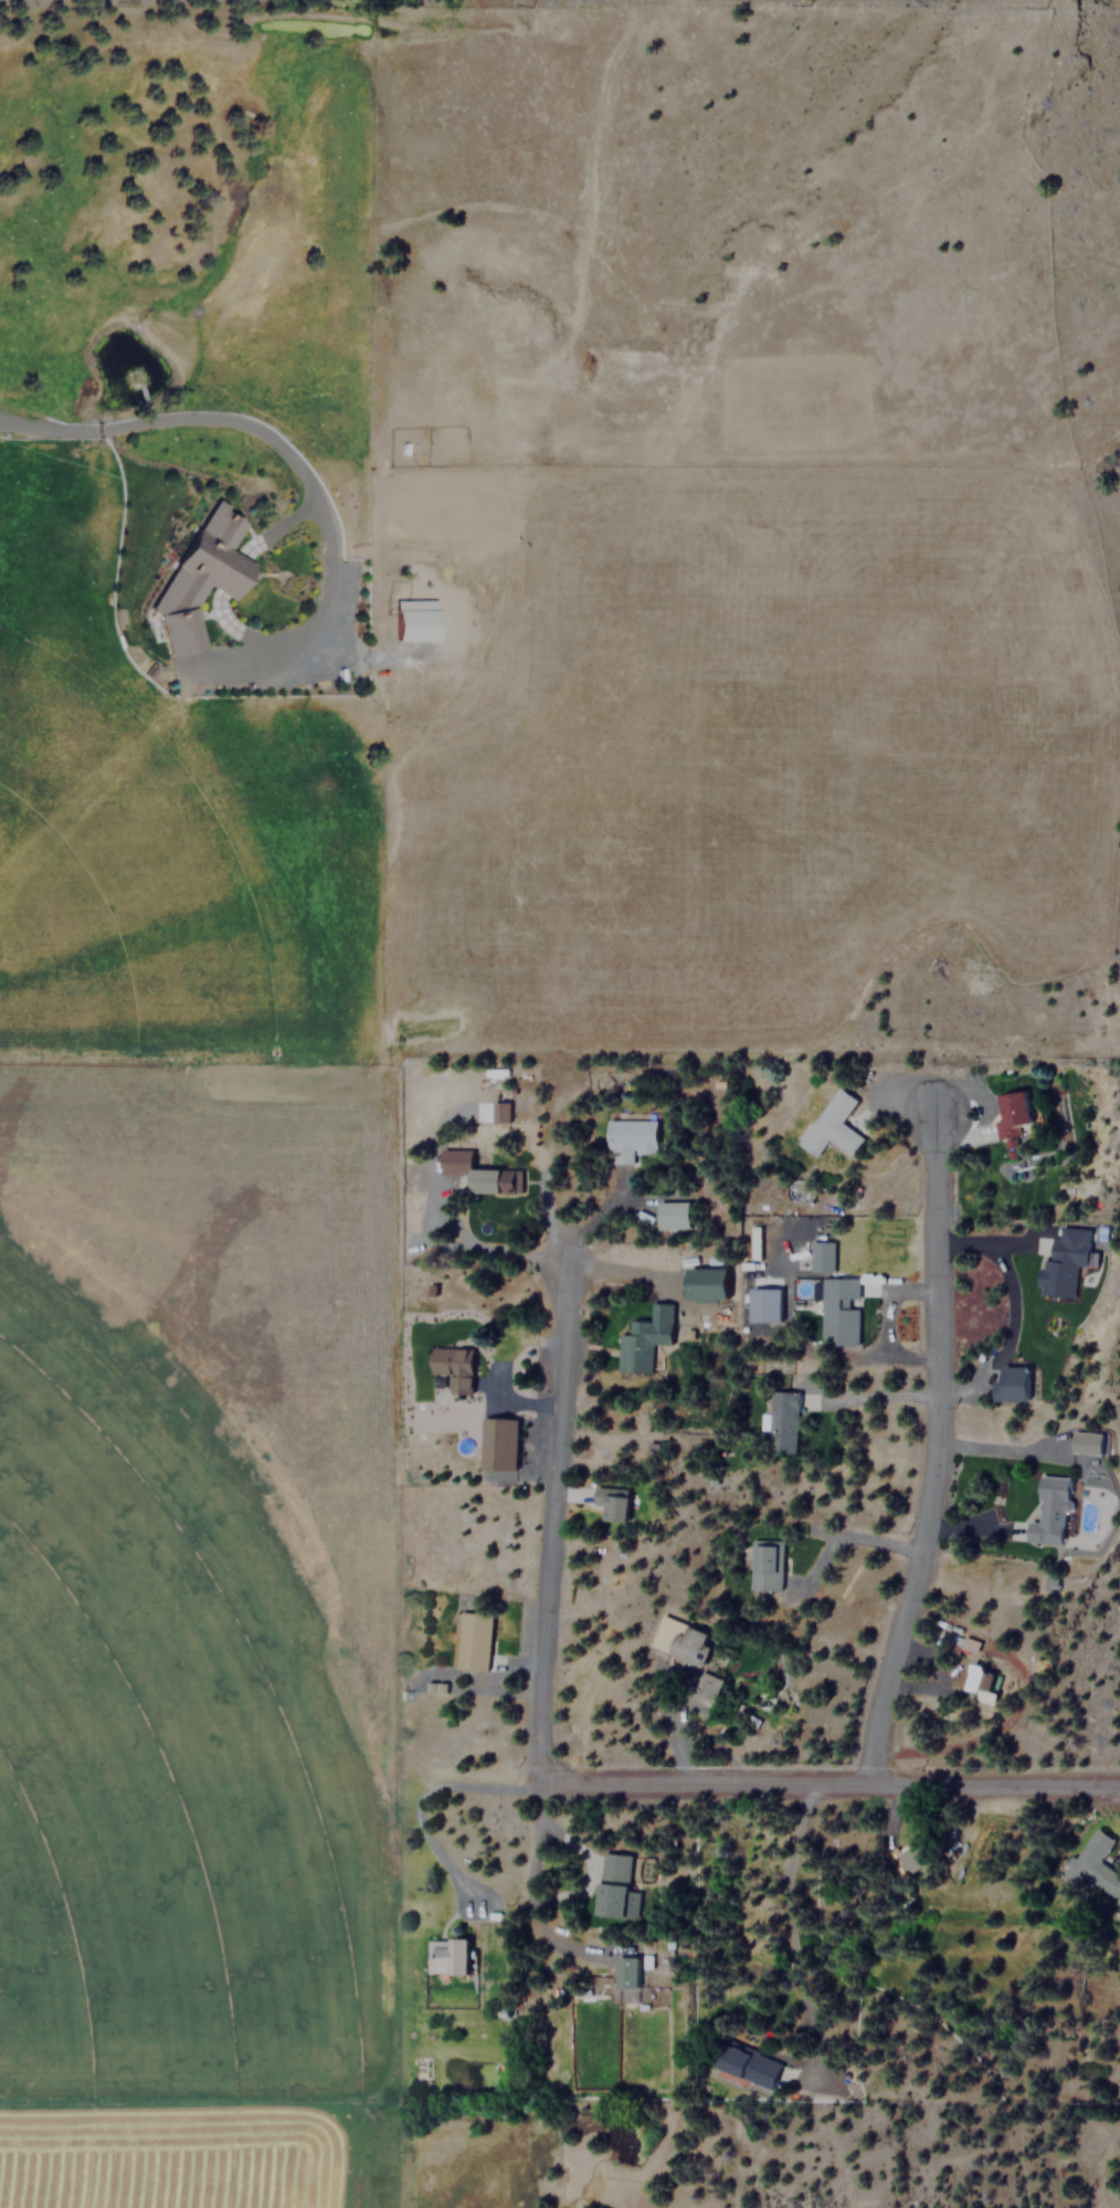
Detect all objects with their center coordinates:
road: (289, 459)
building: (196, 576)
building: (411, 620)
building: (1008, 1111)
building: (499, 1112)
building: (830, 1125)
building: (630, 1138)
building: (495, 1180)
building: (670, 1215)
building: (821, 1255)
building: (1063, 1265)
building: (706, 1284)
building: (762, 1304)
building: (838, 1311)
building: (644, 1337)
building: (451, 1367)
building: (1012, 1384)
building: (780, 1421)
building: (1087, 1442)
building: (498, 1443)
road: (932, 1451)
building: (609, 1503)
building: (1048, 1510)
building: (765, 1565)
building: (665, 1634)
building: (471, 1640)
building: (969, 1643)
building: (688, 1647)
road: (545, 1668)
building: (974, 1682)
building: (707, 1689)
road: (828, 1784)
crop: (154, 1851)
building: (908, 1857)
building: (1093, 1864)
building: (612, 1884)
building: (446, 1955)
building: (625, 1972)
building: (746, 2064)

